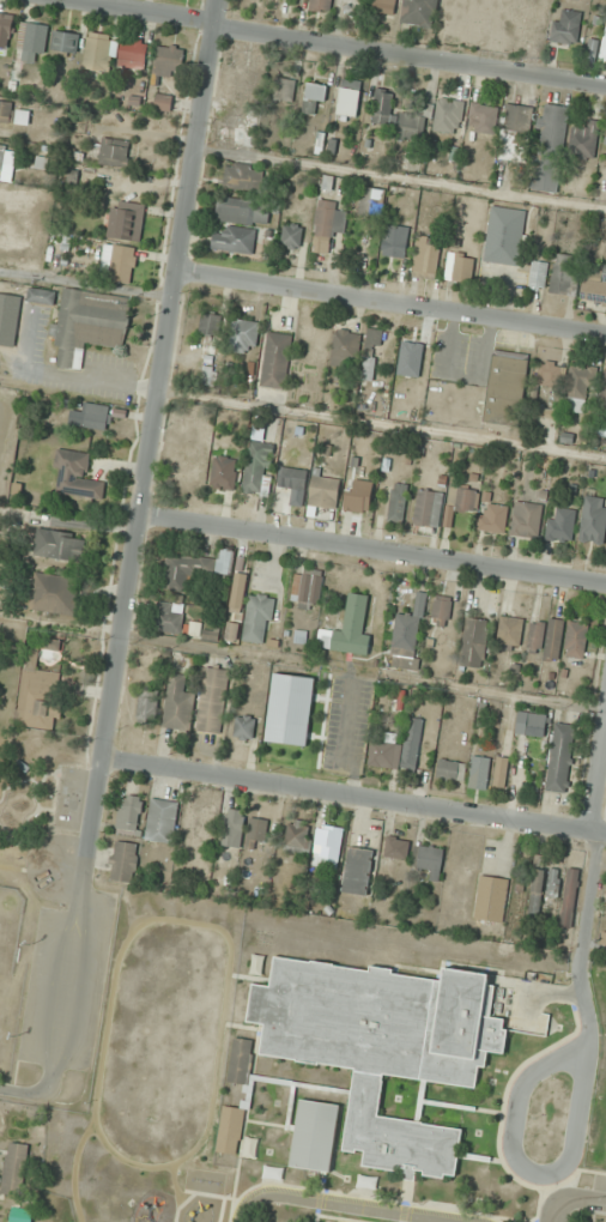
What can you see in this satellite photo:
building: (320, 5)
building: (376, 6)
building: (419, 12)
building: (566, 26)
building: (5, 35)
building: (65, 41)
building: (30, 42)
road: (333, 43)
building: (604, 47)
building: (593, 49)
building: (114, 52)
building: (168, 59)
building: (244, 85)
building: (284, 87)
building: (314, 96)
building: (349, 97)
building: (163, 102)
building: (382, 105)
building: (14, 114)
building: (449, 115)
building: (483, 117)
building: (413, 125)
building: (555, 131)
building: (515, 132)
building: (232, 135)
building: (584, 139)
building: (605, 143)
building: (114, 152)
building: (244, 177)
building: (545, 181)
building: (371, 201)
building: (243, 210)
building: (127, 220)
building: (327, 224)
building: (504, 235)
building: (293, 236)
building: (395, 241)
building: (605, 248)
building: (426, 258)
building: (122, 264)
building: (460, 266)
building: (538, 274)
building: (565, 276)
building: (594, 286)
road: (392, 303)
building: (90, 325)
building: (210, 325)
building: (246, 335)
building: (375, 337)
building: (345, 349)
building: (277, 361)
building: (208, 376)
building: (568, 383)
building: (505, 388)
building: (604, 389)
building: (93, 417)
road: (152, 448)
building: (259, 467)
building: (224, 472)
building: (77, 474)
building: (293, 483)
building: (323, 491)
building: (358, 497)
building: (462, 500)
building: (398, 501)
building: (428, 508)
building: (492, 518)
building: (526, 520)
building: (593, 520)
building: (562, 525)
building: (60, 545)
road: (374, 550)
building: (184, 569)
building: (307, 588)
building: (54, 593)
building: (442, 607)
building: (171, 617)
building: (257, 618)
building: (350, 629)
building: (231, 631)
building: (510, 631)
building: (407, 635)
building: (546, 637)
building: (576, 639)
building: (474, 642)
park: (10, 670)
building: (40, 695)
building: (213, 700)
building: (177, 703)
building: (146, 709)
building: (290, 709)
building: (531, 725)
building: (244, 726)
building: (399, 748)
building: (560, 757)
building: (450, 769)
building: (479, 772)
building: (501, 772)
road: (354, 797)
building: (129, 811)
building: (205, 818)
building: (162, 821)
building: (235, 821)
building: (256, 829)
building: (297, 836)
road: (598, 841)
building: (327, 845)
building: (396, 847)
building: (430, 860)
building: (125, 861)
building: (357, 870)
building: (538, 879)
building: (553, 882)
building: (569, 897)
building: (491, 899)
building: (604, 938)
park: (13, 963)
building: (256, 964)
building: (383, 1046)
building: (241, 1060)
road: (514, 1121)
building: (230, 1130)
building: (314, 1136)
building: (249, 1148)
building: (14, 1169)
building: (273, 1173)
building: (368, 1182)
road: (592, 1198)
road: (558, 1203)
road: (339, 1204)
building: (22, 1215)

